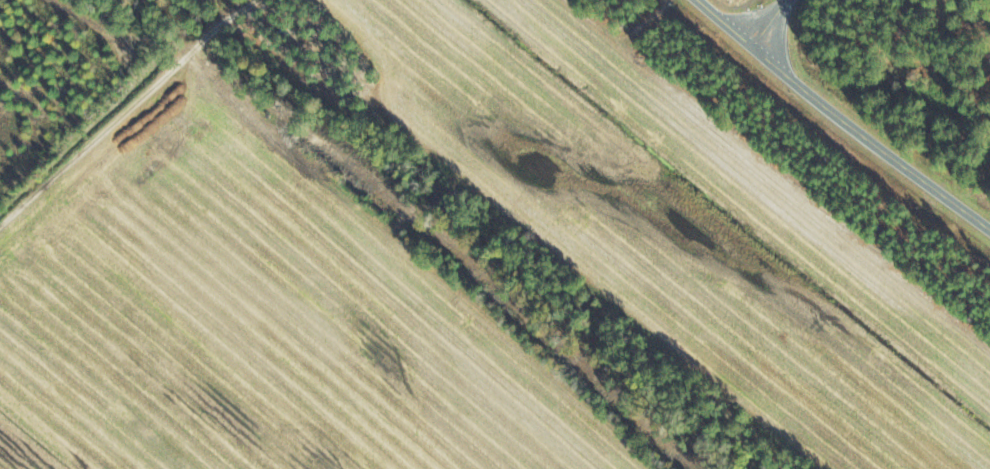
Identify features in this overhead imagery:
road: (772, 23)
road: (843, 118)

